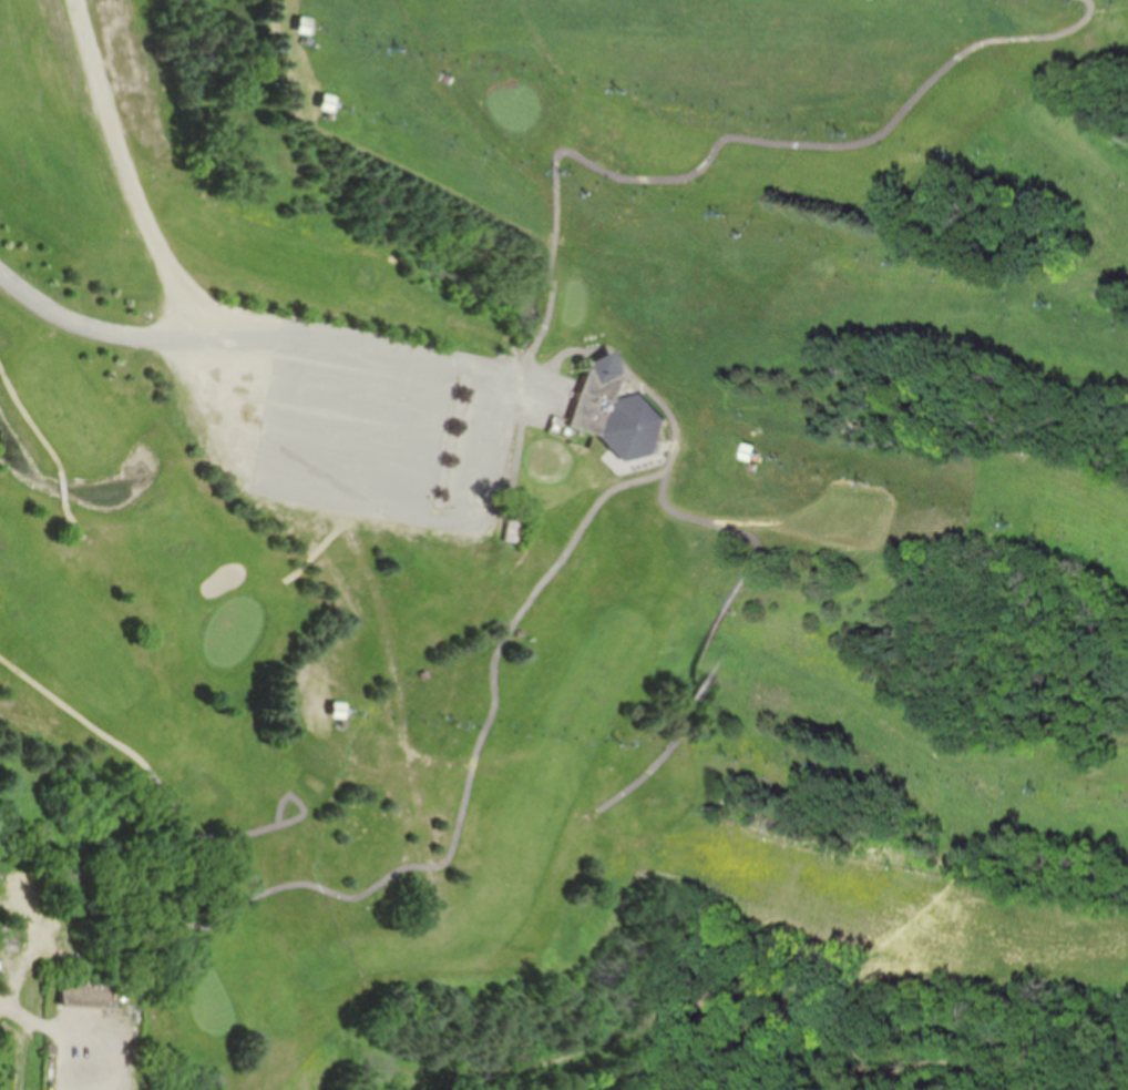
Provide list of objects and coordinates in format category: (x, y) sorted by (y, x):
building: (284, 23)
aerialway pylon: (416, 49)
aerialway pylon: (626, 90)
aerialway pylon: (387, 119)
aerialway pylon: (845, 131)
aerialway pylon: (965, 154)
aerialway pylon: (571, 170)
aerialway pylon: (727, 213)
aerialway pylon: (896, 259)
aerialway pylon: (1054, 303)
road: (215, 310)
road: (100, 326)
building: (614, 409)
parking lot: (394, 416)
park: (422, 444)
aerialway pylon: (779, 458)
ski resort: (761, 476)
aerialway pylon: (866, 483)
road: (362, 505)
aerialway pylon: (1008, 526)
building: (331, 710)
aerialway pylon: (359, 711)
aerialway pylon: (461, 723)
aerialway pylon: (627, 742)
aerialway pylon: (731, 754)
aerialway pylon: (818, 764)
aerialway pylon: (1036, 790)
park: (80, 955)
building: (74, 994)
road: (28, 1020)
road: (24, 1055)
park: (878, 1069)

